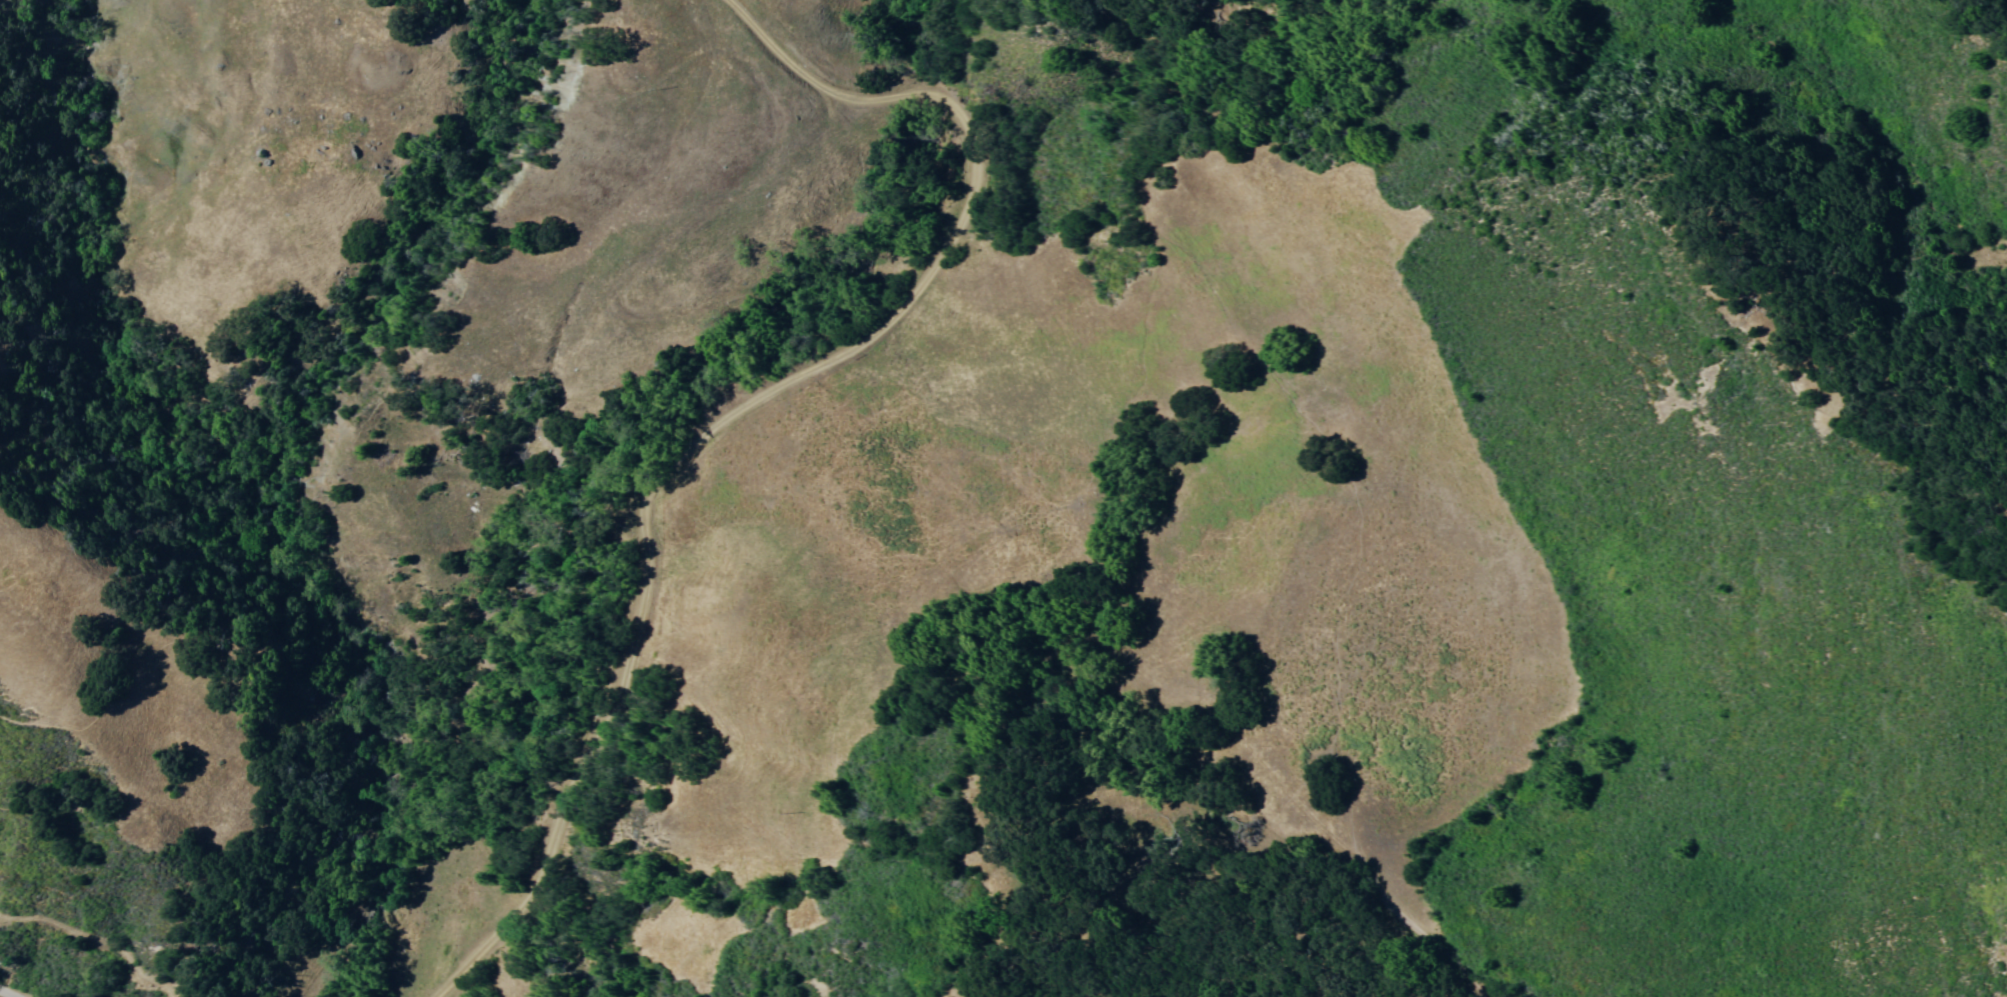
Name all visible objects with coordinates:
road: (723, 414)
road: (1128, 668)
road: (9, 991)

